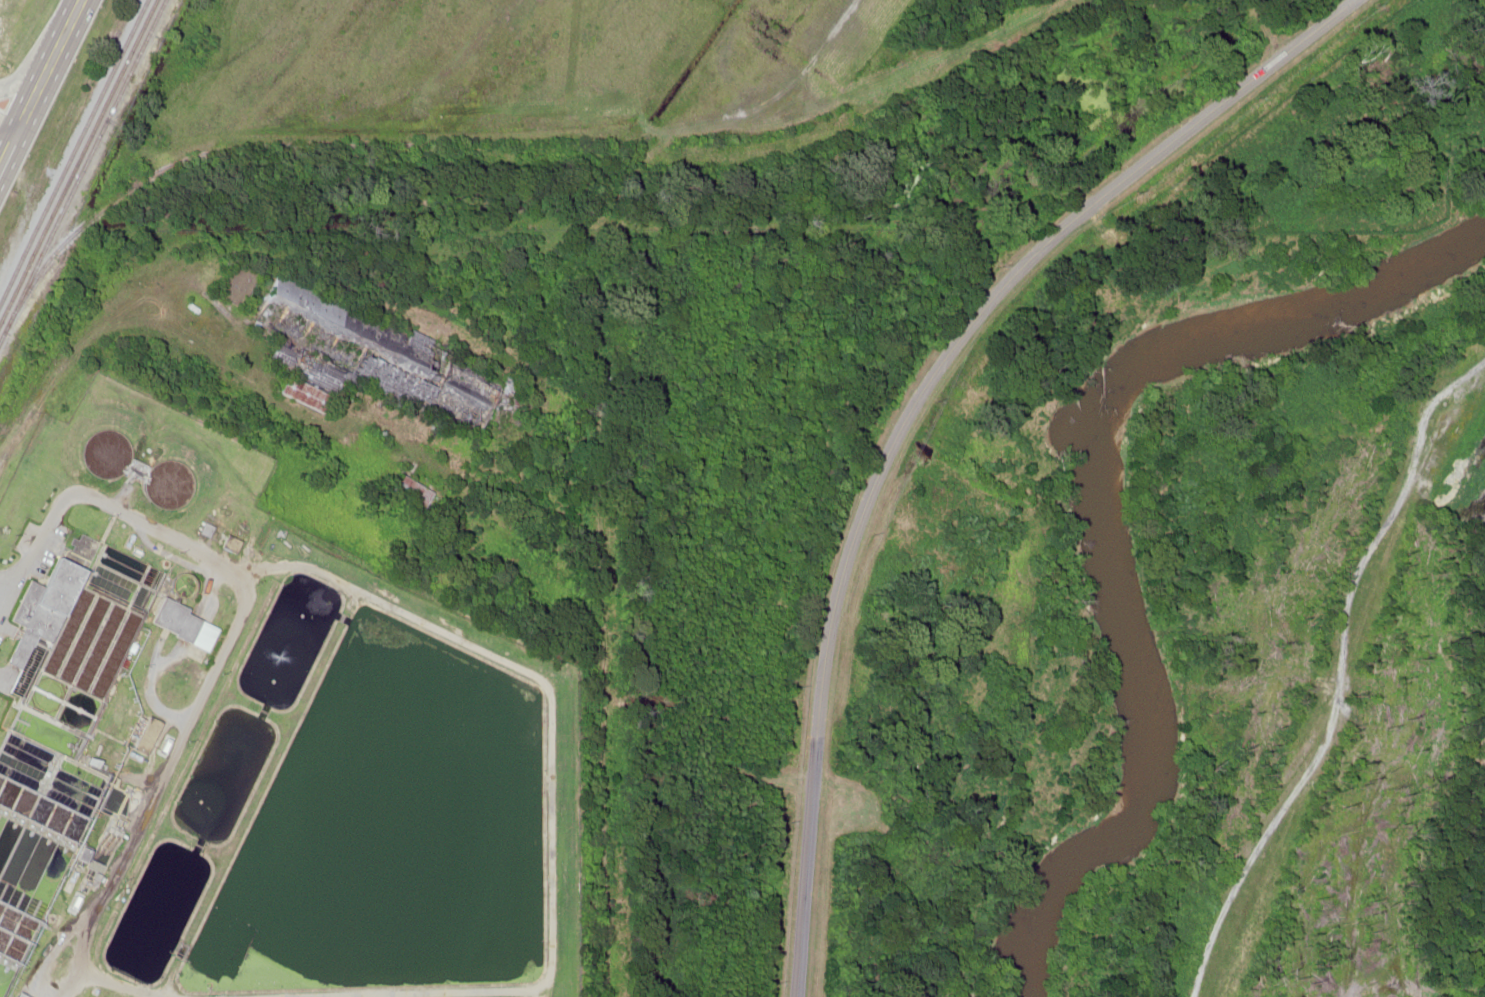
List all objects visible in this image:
airport: (12, 40)
road: (28, 77)
road: (44, 88)
road: (12, 116)
road: (10, 132)
railway: (73, 150)
railway: (77, 158)
railway: (83, 172)
building: (292, 324)
building: (301, 394)
road: (899, 407)
building: (456, 410)
building: (408, 490)
building: (43, 593)
building: (171, 619)
wastewater plant: (259, 744)
building: (16, 995)

